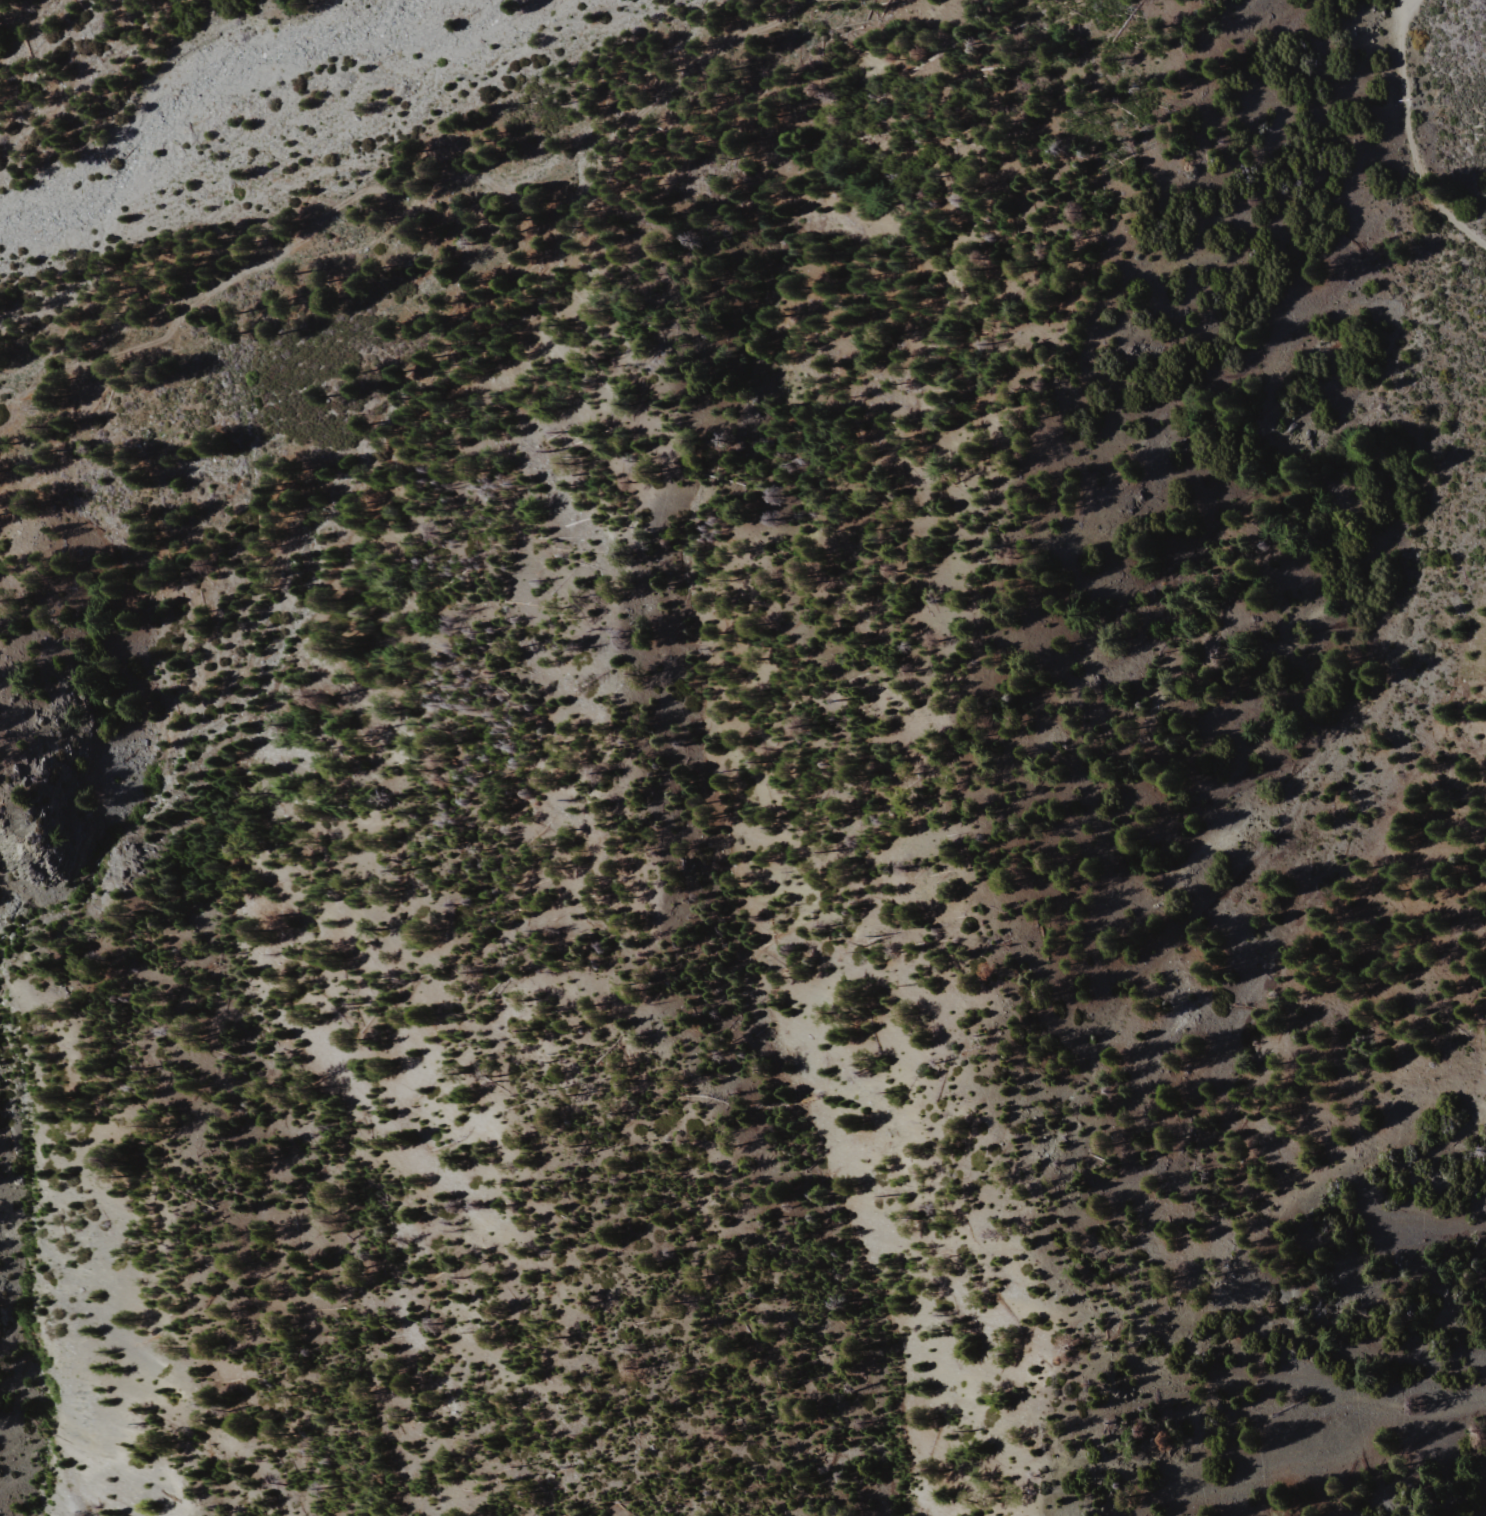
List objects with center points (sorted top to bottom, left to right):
road: (1412, 135)

